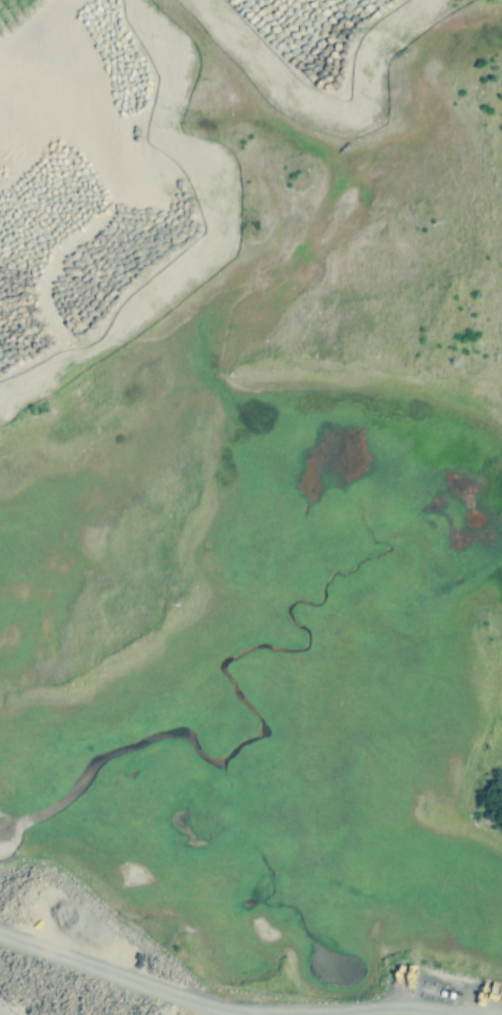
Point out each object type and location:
road: (107, 971)
parking lot: (400, 1013)

